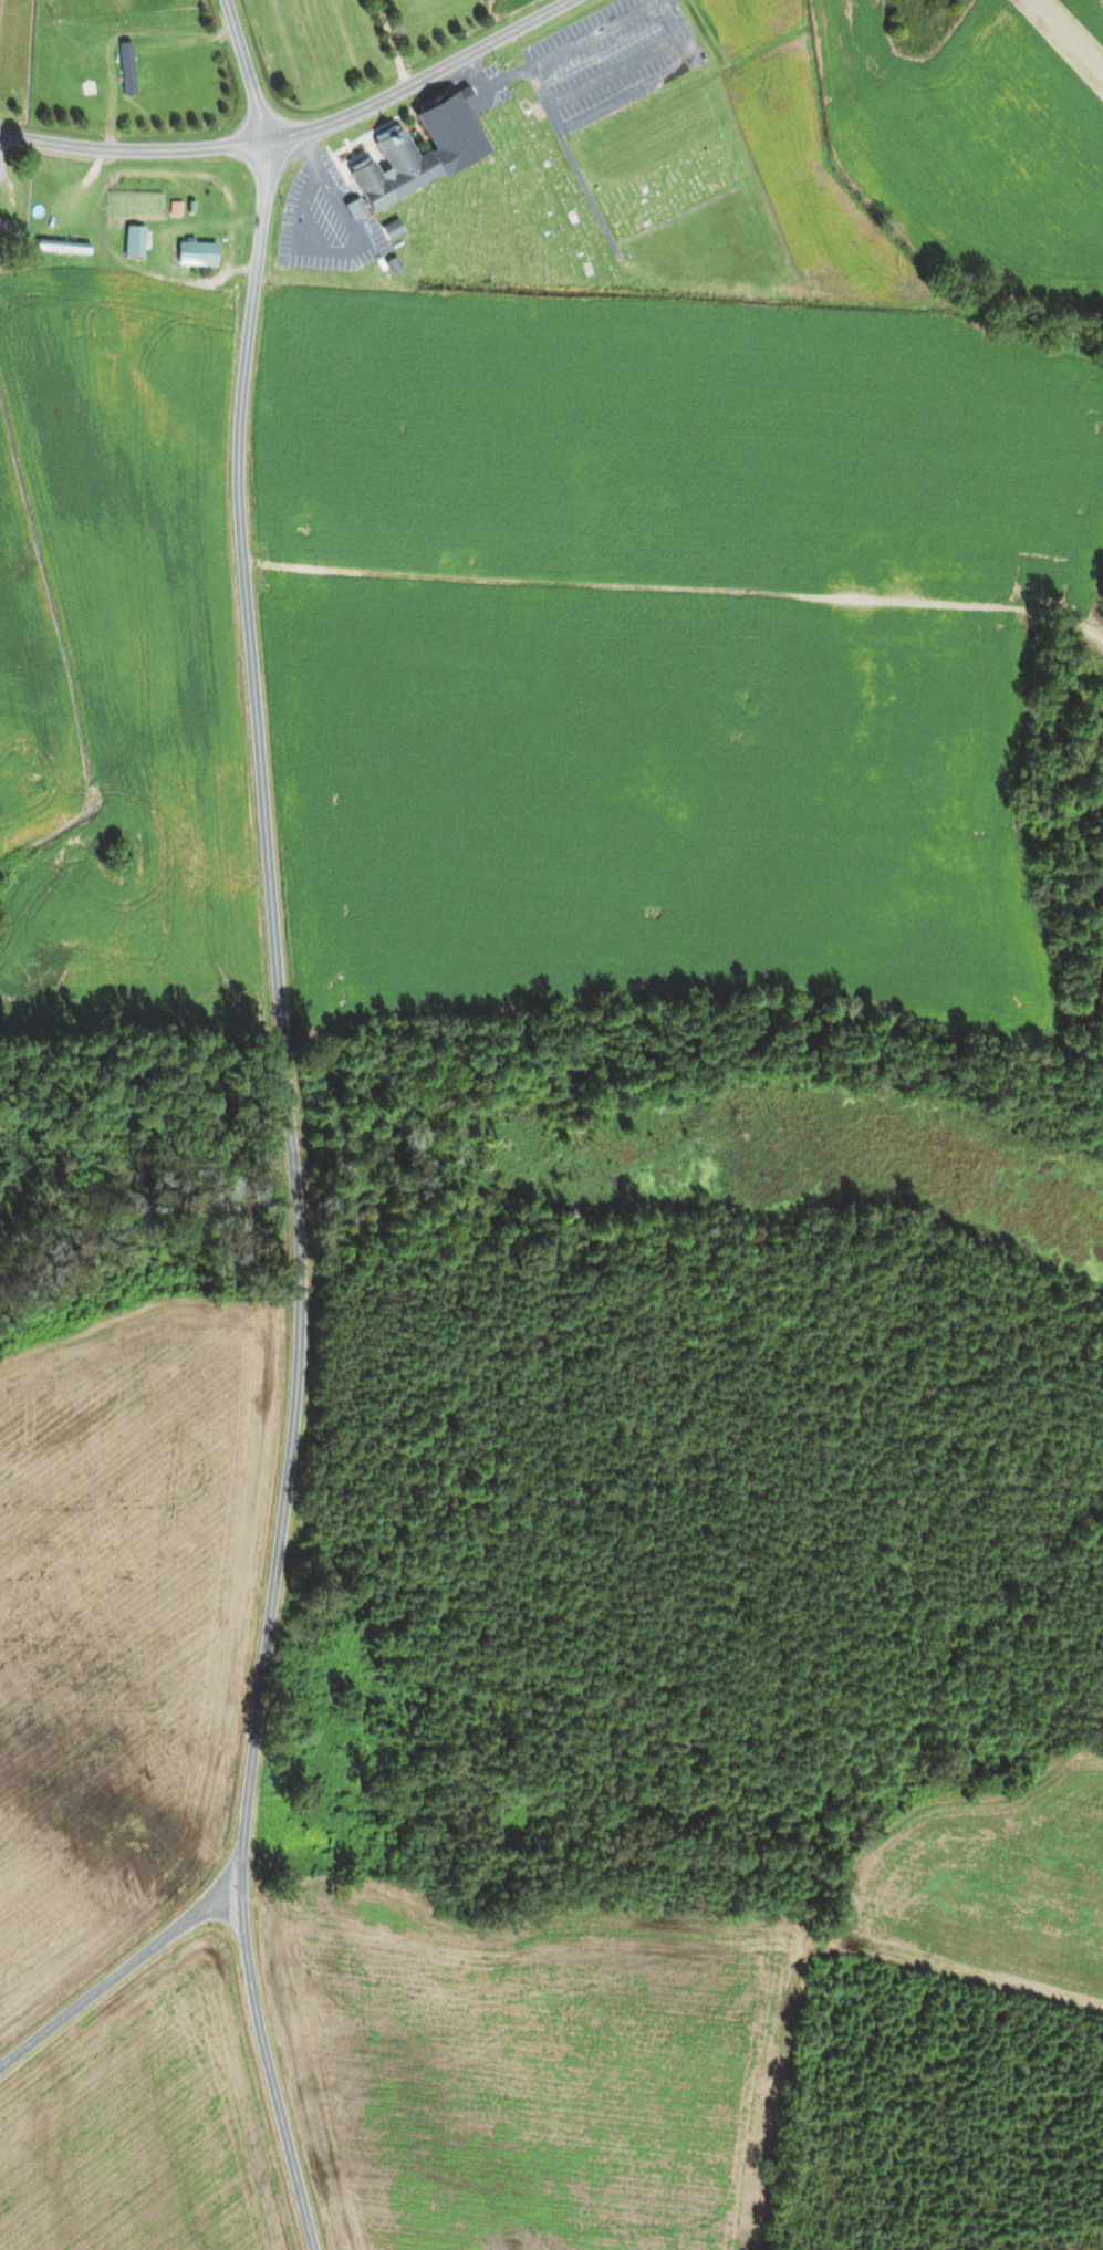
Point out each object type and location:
building: (55, 0)
building: (94, 52)
road: (247, 70)
building: (138, 79)
road: (420, 79)
road: (132, 149)
building: (459, 152)
building: (7, 226)
building: (394, 229)
building: (134, 241)
building: (65, 249)
building: (197, 253)
building: (584, 511)
building: (579, 561)
road: (280, 1015)
road: (118, 1973)
road: (269, 2071)

